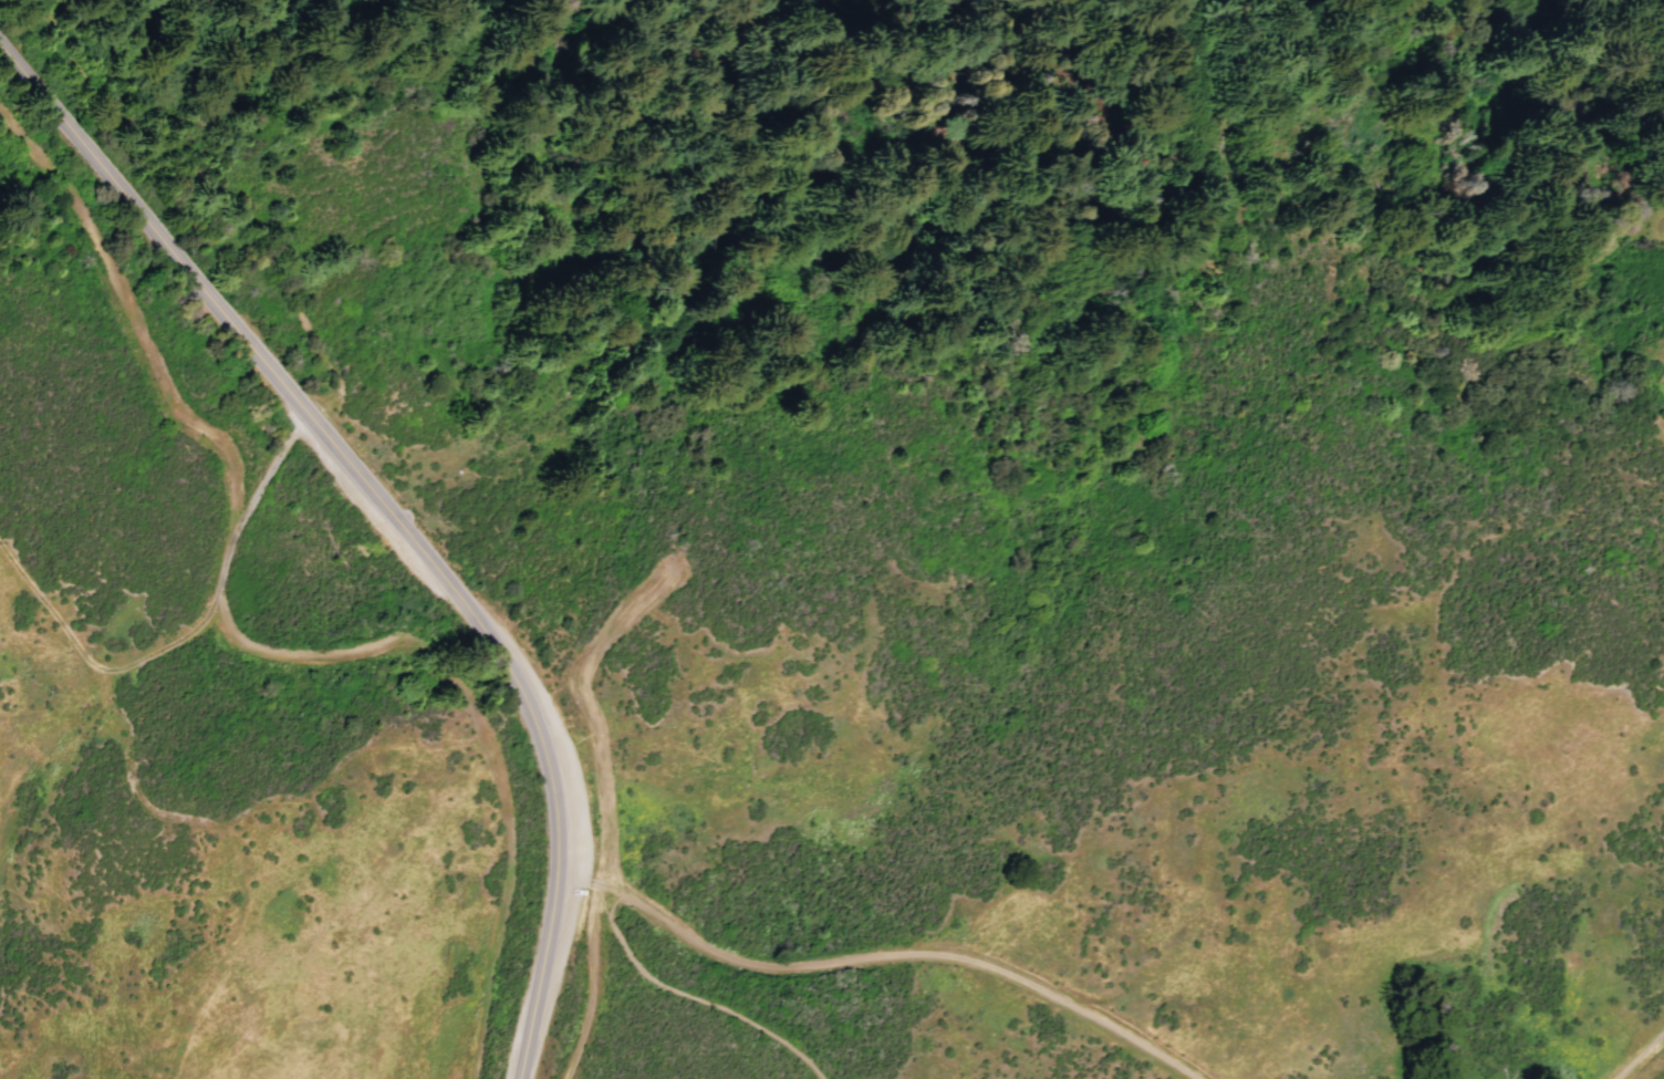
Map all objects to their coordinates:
road: (219, 429)
road: (267, 473)
road: (392, 516)
road: (154, 641)
parking lot: (580, 844)
road: (507, 849)
road: (876, 959)
road: (587, 985)
road: (693, 1000)
road: (1643, 1058)

